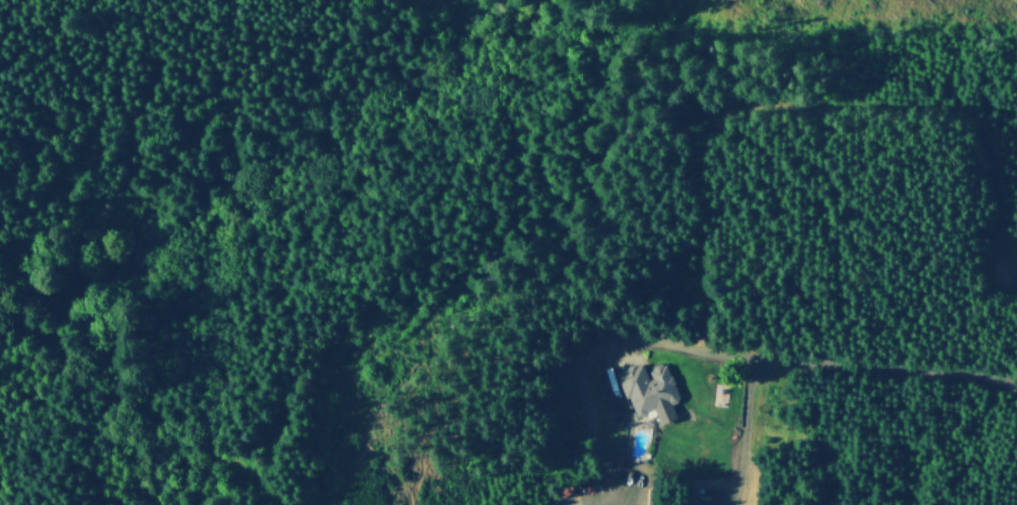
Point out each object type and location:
road: (605, 345)
road: (898, 367)
road: (611, 380)
building: (649, 388)
road: (745, 425)
building: (621, 463)
building: (589, 488)
building: (651, 497)

